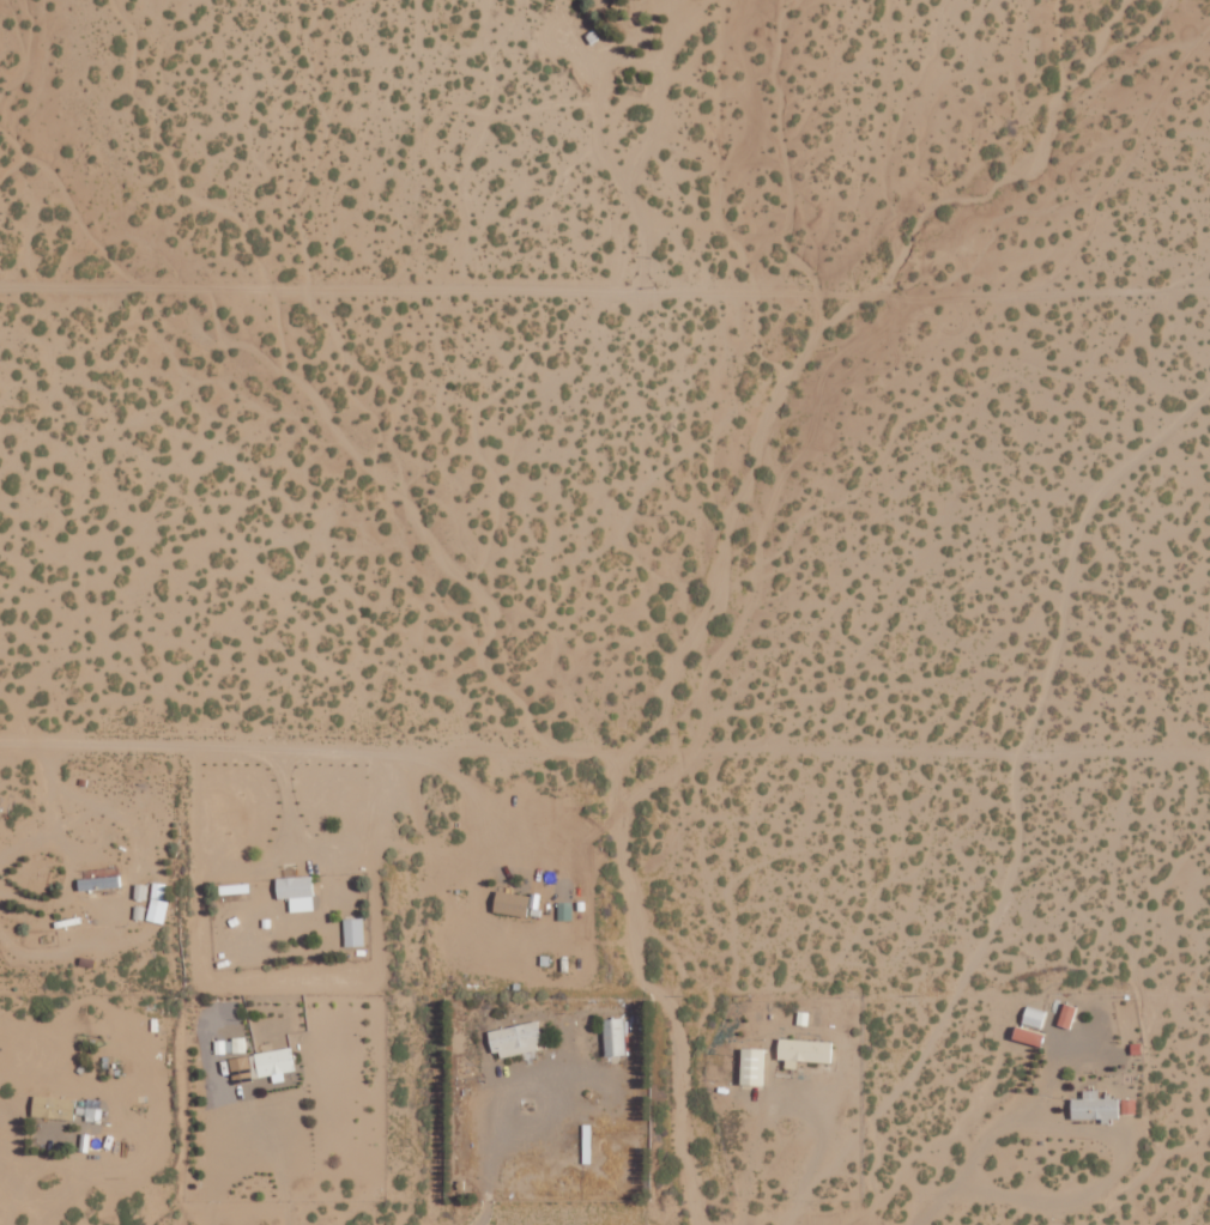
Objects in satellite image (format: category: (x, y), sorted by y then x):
road: (604, 281)
road: (1034, 827)
road: (152, 849)
building: (89, 883)
building: (295, 892)
building: (509, 903)
building: (563, 910)
building: (352, 932)
building: (1065, 1014)
building: (612, 1036)
building: (1026, 1036)
building: (515, 1038)
building: (229, 1045)
building: (803, 1051)
building: (273, 1063)
building: (751, 1067)
building: (1127, 1105)
building: (1094, 1106)
building: (52, 1108)
road: (388, 1202)

